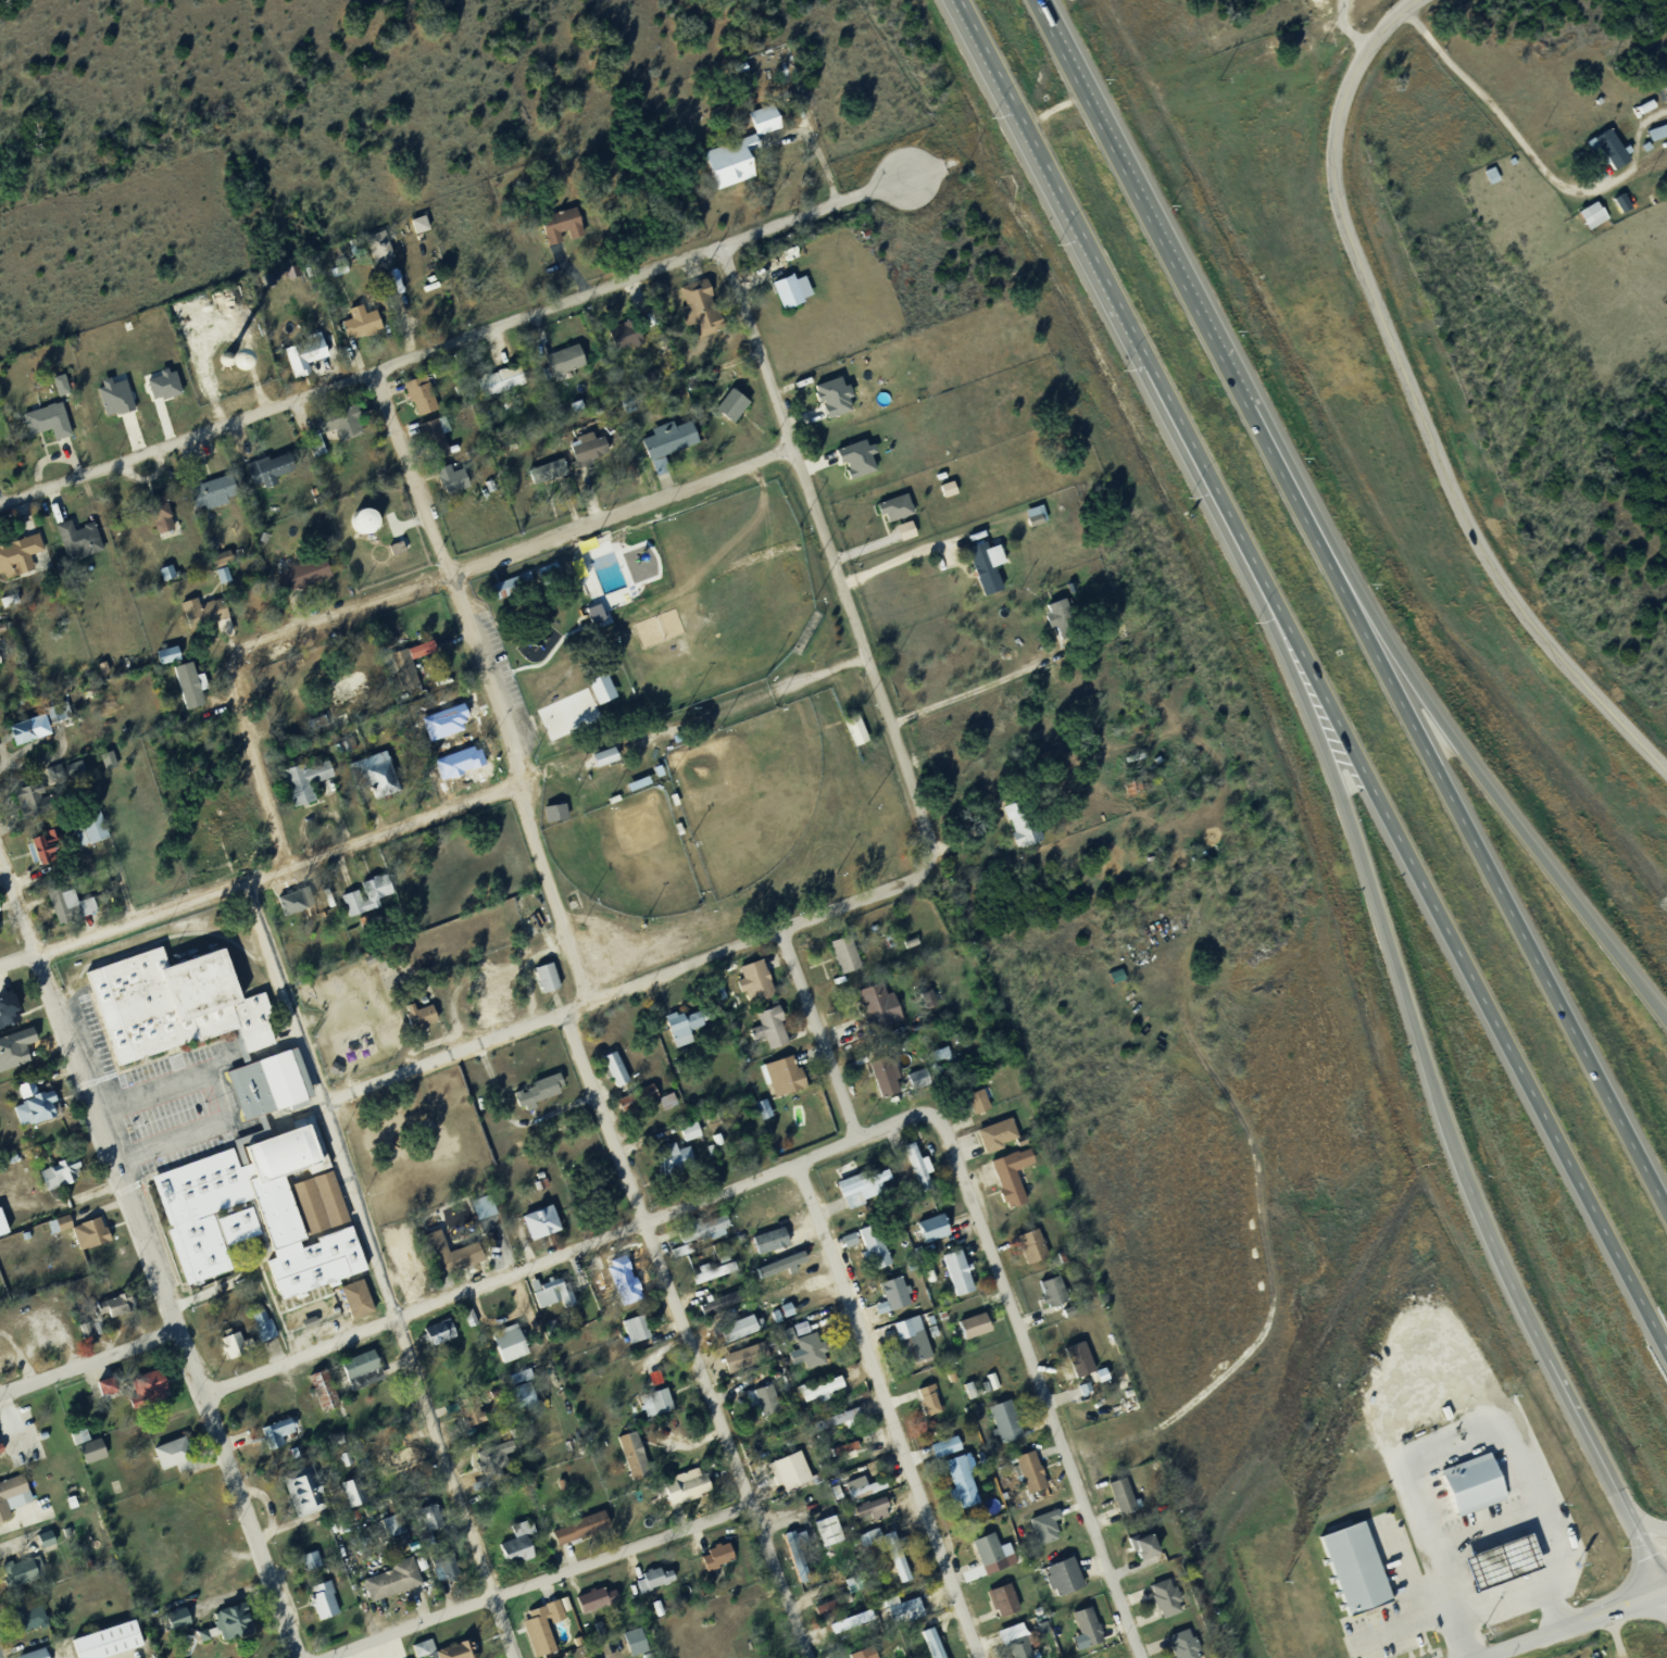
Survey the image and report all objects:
building: (736, 73)
road: (1486, 103)
building: (757, 125)
building: (1656, 129)
building: (1607, 147)
road: (820, 155)
building: (729, 168)
building: (1621, 201)
building: (1592, 213)
building: (424, 222)
building: (555, 230)
building: (384, 249)
building: (376, 263)
road: (1103, 272)
building: (334, 276)
building: (398, 278)
road: (1181, 282)
building: (794, 288)
building: (425, 292)
building: (782, 296)
building: (694, 312)
building: (355, 327)
building: (272, 340)
building: (619, 340)
road: (453, 342)
building: (309, 351)
water tower: (223, 363)
building: (297, 363)
building: (560, 365)
building: (64, 381)
building: (167, 382)
building: (496, 388)
building: (55, 389)
building: (423, 392)
building: (118, 394)
building: (416, 401)
building: (828, 401)
building: (735, 402)
road: (1414, 404)
building: (726, 411)
building: (572, 412)
building: (42, 425)
building: (330, 429)
building: (431, 442)
building: (664, 444)
building: (577, 451)
building: (852, 462)
building: (550, 468)
building: (264, 475)
building: (449, 482)
building: (953, 486)
building: (487, 493)
building: (205, 498)
building: (890, 511)
building: (163, 516)
building: (1030, 518)
building: (149, 522)
water tower: (359, 527)
building: (910, 528)
building: (74, 545)
building: (400, 545)
road: (514, 552)
road: (829, 553)
building: (225, 555)
road: (900, 555)
building: (15, 560)
building: (215, 563)
building: (981, 569)
building: (552, 570)
building: (161, 577)
road: (451, 577)
building: (542, 577)
building: (294, 579)
building: (517, 580)
building: (1069, 589)
park: (699, 601)
building: (600, 611)
building: (199, 617)
building: (1057, 621)
building: (396, 639)
building: (173, 651)
building: (1, 657)
building: (98, 674)
building: (404, 677)
building: (193, 682)
building: (441, 686)
building: (605, 687)
road: (976, 687)
building: (184, 692)
park: (692, 724)
building: (852, 734)
building: (18, 738)
building: (111, 757)
road: (248, 759)
building: (601, 761)
building: (101, 766)
building: (439, 767)
building: (60, 779)
building: (368, 780)
building: (298, 787)
park: (732, 790)
road: (1496, 793)
building: (22, 804)
building: (557, 811)
building: (99, 827)
building: (1018, 828)
building: (43, 855)
park: (622, 857)
road: (258, 876)
road: (1499, 888)
road: (551, 892)
building: (299, 899)
building: (362, 901)
building: (288, 907)
building: (67, 909)
building: (365, 921)
building: (0, 932)
building: (906, 945)
road: (1456, 946)
building: (848, 952)
building: (840, 960)
building: (550, 976)
building: (541, 982)
road: (629, 985)
building: (749, 985)
building: (714, 996)
building: (479, 1000)
building: (922, 1001)
building: (168, 1010)
building: (872, 1012)
building: (424, 1013)
building: (5, 1017)
building: (414, 1021)
building: (679, 1031)
road: (818, 1032)
building: (766, 1033)
building: (12, 1052)
building: (339, 1067)
building: (618, 1067)
building: (610, 1073)
building: (889, 1075)
building: (929, 1075)
road: (1428, 1077)
building: (776, 1080)
building: (880, 1082)
building: (268, 1085)
building: (535, 1094)
road: (222, 1095)
building: (763, 1103)
building: (631, 1105)
building: (664, 1105)
building: (973, 1106)
building: (28, 1110)
building: (759, 1115)
building: (692, 1129)
building: (685, 1136)
building: (718, 1138)
building: (993, 1140)
building: (713, 1145)
building: (922, 1164)
building: (670, 1166)
building: (914, 1171)
building: (1005, 1179)
building: (53, 1181)
building: (535, 1181)
building: (854, 1192)
building: (315, 1208)
building: (247, 1220)
building: (4, 1221)
building: (62, 1222)
building: (937, 1226)
building: (536, 1229)
building: (927, 1233)
building: (699, 1234)
building: (85, 1238)
building: (775, 1238)
building: (21, 1241)
building: (877, 1243)
building: (764, 1245)
building: (1027, 1251)
road: (562, 1253)
building: (868, 1253)
road: (151, 1257)
building: (786, 1261)
building: (430, 1266)
road: (379, 1269)
building: (616, 1272)
building: (706, 1277)
building: (952, 1278)
building: (925, 1281)
building: (782, 1283)
building: (1056, 1289)
building: (548, 1296)
building: (889, 1297)
building: (1049, 1297)
building: (133, 1298)
building: (352, 1303)
building: (715, 1306)
building: (790, 1307)
road: (154, 1312)
building: (781, 1314)
building: (110, 1317)
building: (306, 1317)
building: (769, 1321)
building: (266, 1324)
building: (803, 1326)
building: (968, 1329)
building: (256, 1330)
building: (442, 1330)
building: (544, 1331)
building: (794, 1332)
building: (915, 1332)
building: (631, 1334)
road: (686, 1334)
building: (730, 1334)
building: (433, 1339)
building: (905, 1344)
building: (503, 1348)
building: (227, 1349)
building: (804, 1353)
building: (1085, 1357)
road: (89, 1361)
building: (741, 1361)
building: (1074, 1364)
building: (353, 1369)
building: (1105, 1372)
building: (522, 1374)
building: (657, 1376)
road: (1036, 1378)
building: (111, 1384)
building: (823, 1385)
building: (973, 1387)
building: (326, 1389)
building: (1089, 1389)
building: (143, 1393)
building: (102, 1394)
building: (526, 1394)
building: (816, 1394)
building: (1080, 1394)
building: (964, 1395)
building: (514, 1396)
building: (932, 1398)
building: (922, 1402)
building: (764, 1404)
building: (653, 1407)
building: (473, 1409)
road: (888, 1410)
building: (842, 1416)
road: (1511, 1420)
road: (11, 1421)
building: (831, 1423)
building: (1001, 1425)
building: (83, 1434)
building: (272, 1439)
building: (1, 1446)
building: (848, 1446)
building: (96, 1448)
building: (940, 1452)
building: (840, 1453)
building: (637, 1454)
building: (87, 1455)
building: (173, 1460)
building: (628, 1460)
building: (487, 1466)
building: (401, 1468)
building: (1035, 1470)
building: (1025, 1475)
building: (784, 1477)
building: (866, 1484)
building: (957, 1485)
building: (313, 1490)
building: (849, 1490)
building: (1466, 1490)
building: (681, 1494)
building: (1127, 1494)
building: (10, 1496)
building: (294, 1497)
building: (349, 1497)
building: (1117, 1502)
building: (876, 1506)
building: (867, 1512)
building: (430, 1516)
road: (1644, 1522)
building: (394, 1523)
building: (424, 1525)
building: (1040, 1530)
building: (575, 1531)
building: (387, 1532)
building: (823, 1535)
building: (50, 1536)
building: (868, 1540)
building: (522, 1541)
building: (40, 1542)
building: (1153, 1545)
building: (1138, 1552)
building: (982, 1553)
building: (899, 1555)
building: (511, 1556)
building: (312, 1558)
building: (712, 1559)
building: (794, 1559)
building: (892, 1562)
building: (304, 1565)
building: (1495, 1570)
building: (440, 1571)
building: (20, 1574)
building: (1349, 1574)
building: (1057, 1580)
road: (536, 1581)
building: (650, 1582)
building: (389, 1585)
road: (1665, 1592)
building: (1161, 1603)
building: (318, 1604)
building: (590, 1604)
building: (829, 1604)
building: (998, 1604)
building: (822, 1610)
building: (653, 1611)
building: (902, 1613)
building: (181, 1616)
road: (1568, 1622)
building: (171, 1623)
building: (228, 1625)
building: (1090, 1626)
building: (847, 1628)
building: (537, 1631)
building: (1038, 1631)
building: (593, 1632)
building: (1080, 1632)
road: (1616, 1632)
road: (1409, 1635)
road: (1461, 1638)
building: (198, 1640)
building: (638, 1640)
building: (937, 1642)
building: (1020, 1642)
building: (105, 1645)
building: (630, 1645)
building: (926, 1645)
building: (427, 1646)
building: (573, 1646)
building: (1179, 1647)
building: (1012, 1649)
building: (418, 1651)
building: (452, 1653)
building: (33, 1656)
building: (865, 1656)

